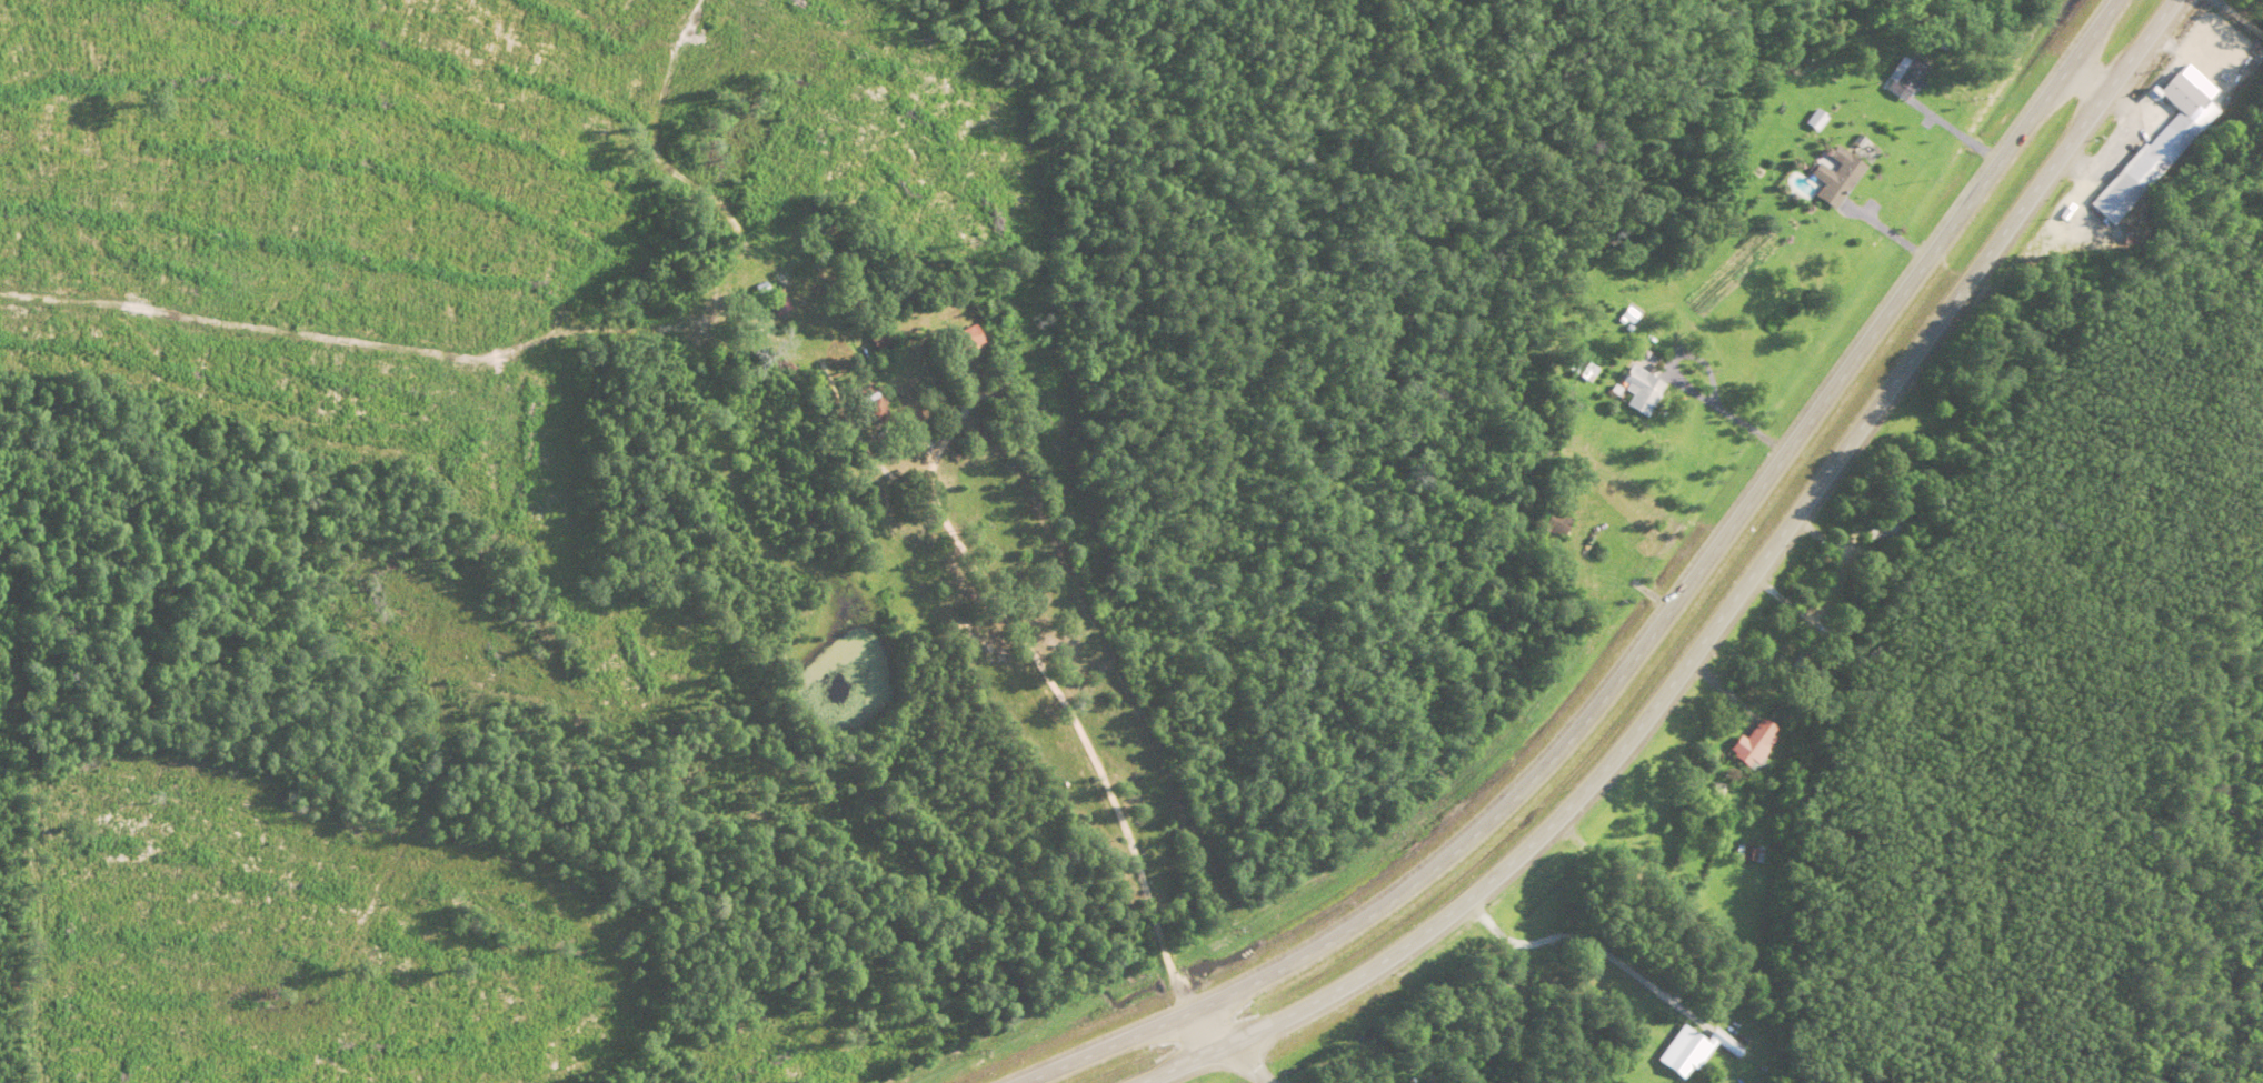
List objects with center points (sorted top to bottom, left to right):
road: (1717, 615)
road: (1644, 638)
road: (1069, 716)
road: (1240, 1064)

